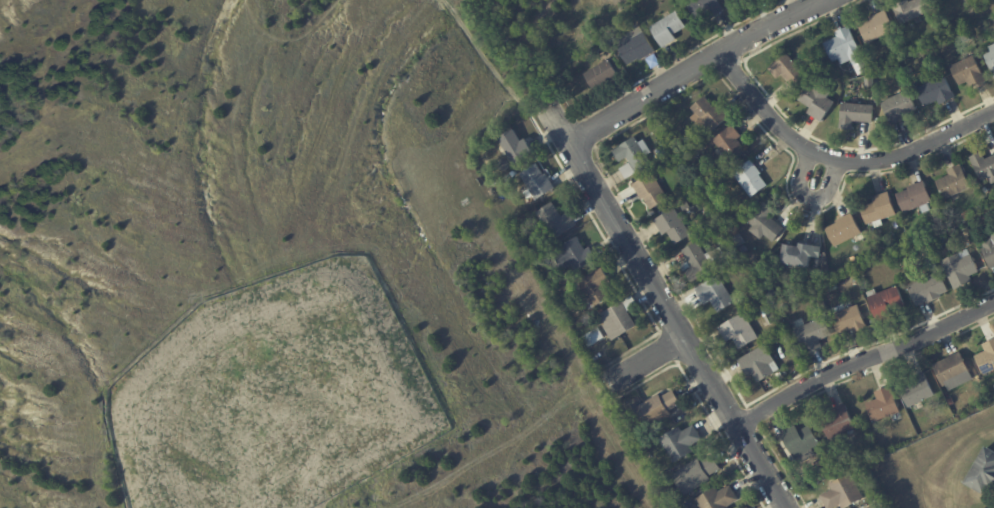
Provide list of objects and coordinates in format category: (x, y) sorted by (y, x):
building: (707, 8)
building: (913, 9)
building: (879, 27)
building: (602, 28)
building: (669, 28)
building: (637, 46)
building: (848, 50)
building: (597, 54)
building: (991, 57)
road: (484, 61)
road: (692, 65)
building: (789, 71)
building: (970, 72)
building: (603, 75)
building: (834, 77)
building: (871, 84)
building: (937, 92)
building: (868, 100)
building: (819, 101)
building: (901, 107)
building: (857, 115)
building: (709, 116)
building: (691, 140)
building: (731, 145)
building: (516, 147)
building: (670, 150)
building: (634, 157)
road: (837, 160)
building: (985, 166)
building: (752, 179)
building: (538, 182)
building: (955, 182)
building: (651, 191)
road: (806, 196)
building: (917, 198)
building: (983, 209)
building: (880, 210)
building: (969, 214)
building: (988, 216)
building: (557, 220)
building: (713, 220)
building: (766, 224)
building: (674, 227)
building: (845, 231)
building: (993, 237)
building: (943, 238)
building: (722, 240)
building: (908, 241)
building: (990, 251)
building: (576, 255)
building: (800, 256)
building: (700, 261)
building: (718, 265)
building: (962, 270)
building: (595, 289)
building: (928, 290)
building: (716, 294)
building: (772, 294)
building: (743, 302)
building: (887, 303)
road: (663, 307)
building: (768, 316)
building: (620, 319)
building: (851, 321)
building: (740, 331)
building: (815, 335)
building: (595, 338)
road: (643, 358)
road: (862, 359)
building: (987, 359)
building: (759, 364)
building: (955, 371)
building: (775, 383)
building: (919, 391)
building: (951, 401)
building: (885, 405)
building: (658, 408)
building: (840, 422)
building: (935, 423)
building: (803, 439)
building: (681, 441)
building: (834, 464)
building: (697, 473)
building: (984, 474)
building: (677, 492)
building: (843, 492)
building: (719, 498)
building: (683, 505)
building: (875, 506)
building: (982, 507)

